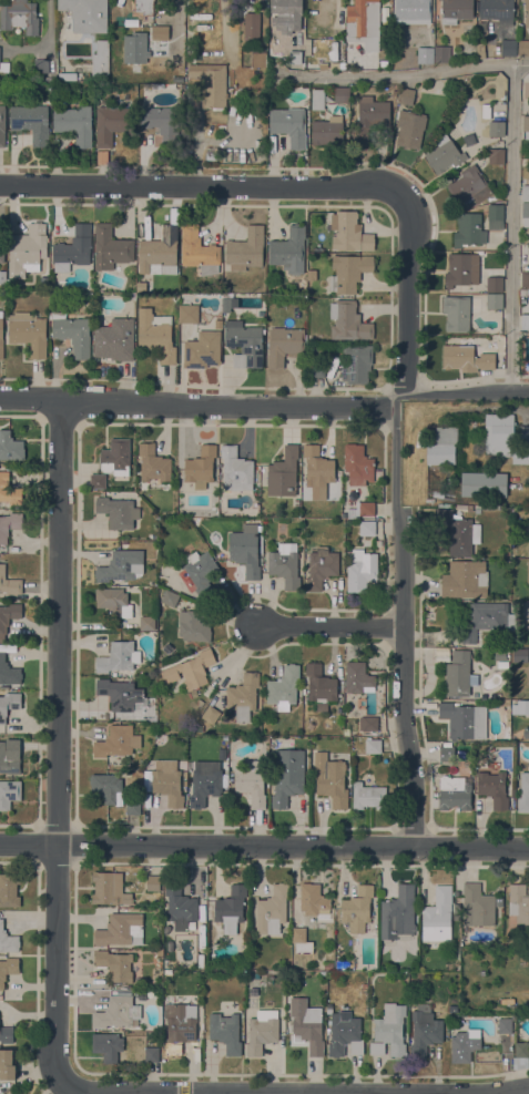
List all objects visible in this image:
building: (145, 7)
building: (456, 10)
building: (497, 10)
building: (413, 11)
building: (87, 14)
building: (286, 14)
building: (527, 14)
building: (20, 16)
building: (364, 23)
road: (176, 27)
building: (252, 27)
road: (44, 38)
building: (145, 47)
building: (508, 47)
building: (523, 48)
building: (479, 50)
building: (441, 53)
building: (425, 54)
building: (295, 57)
building: (100, 58)
building: (258, 59)
building: (335, 64)
road: (521, 64)
building: (41, 65)
building: (4, 67)
building: (73, 75)
road: (394, 79)
building: (211, 83)
building: (342, 94)
building: (404, 95)
building: (317, 99)
building: (370, 116)
building: (31, 122)
building: (74, 123)
building: (113, 123)
building: (2, 124)
building: (162, 124)
building: (289, 125)
building: (526, 125)
building: (496, 127)
building: (410, 129)
building: (329, 132)
building: (468, 139)
building: (445, 154)
building: (496, 155)
building: (469, 185)
road: (196, 188)
building: (526, 190)
building: (526, 213)
building: (495, 216)
road: (512, 228)
building: (469, 229)
building: (349, 232)
building: (111, 247)
building: (73, 248)
building: (245, 248)
building: (27, 249)
building: (159, 249)
building: (2, 251)
building: (199, 251)
building: (289, 252)
building: (460, 269)
building: (349, 272)
building: (2, 276)
building: (525, 278)
building: (495, 284)
road: (408, 286)
building: (523, 292)
building: (495, 300)
building: (226, 301)
building: (459, 311)
building: (189, 313)
building: (261, 313)
building: (348, 321)
building: (525, 321)
building: (29, 331)
building: (72, 333)
building: (155, 335)
building: (1, 336)
building: (318, 336)
building: (114, 339)
building: (245, 345)
building: (283, 345)
building: (203, 349)
building: (467, 356)
building: (356, 362)
building: (527, 366)
building: (316, 367)
road: (265, 403)
building: (525, 434)
building: (503, 438)
building: (442, 446)
building: (10, 447)
building: (115, 457)
building: (357, 463)
building: (154, 466)
building: (201, 467)
building: (236, 469)
building: (317, 471)
building: (283, 472)
building: (378, 474)
building: (98, 481)
building: (484, 483)
building: (9, 490)
building: (465, 505)
building: (365, 508)
building: (118, 512)
building: (9, 524)
building: (367, 526)
building: (458, 531)
building: (528, 549)
building: (245, 550)
building: (285, 564)
building: (121, 565)
building: (321, 566)
building: (362, 570)
building: (201, 571)
building: (528, 571)
building: (465, 579)
building: (9, 582)
building: (170, 597)
building: (113, 601)
building: (8, 616)
building: (489, 618)
building: (147, 622)
road: (403, 623)
building: (193, 626)
road: (333, 627)
building: (500, 654)
building: (519, 655)
building: (119, 656)
building: (502, 664)
building: (190, 669)
building: (9, 671)
building: (459, 673)
building: (358, 677)
building: (321, 683)
building: (284, 687)
building: (119, 693)
building: (243, 696)
building: (9, 704)
building: (321, 706)
building: (520, 707)
building: (211, 714)
building: (464, 719)
building: (368, 723)
building: (197, 727)
building: (526, 732)
building: (116, 740)
road: (58, 743)
building: (373, 746)
building: (10, 757)
building: (287, 775)
building: (330, 779)
building: (252, 781)
building: (167, 783)
building: (452, 783)
building: (106, 785)
building: (204, 785)
building: (494, 788)
building: (9, 793)
building: (523, 793)
building: (368, 796)
building: (132, 806)
road: (264, 846)
building: (153, 882)
building: (109, 888)
building: (9, 889)
building: (313, 899)
building: (520, 903)
building: (477, 906)
building: (180, 907)
building: (231, 908)
building: (357, 908)
building: (272, 910)
building: (398, 913)
building: (438, 914)
building: (121, 929)
building: (298, 934)
building: (8, 940)
building: (115, 964)
building: (328, 965)
building: (8, 968)
building: (116, 1012)
building: (179, 1025)
building: (505, 1025)
building: (309, 1029)
building: (424, 1030)
building: (225, 1031)
building: (389, 1031)
building: (344, 1033)
building: (7, 1034)
building: (261, 1034)
building: (465, 1044)
building: (108, 1045)
building: (151, 1054)
building: (520, 1054)
building: (7, 1064)
road: (507, 1090)
road: (216, 1092)
road: (162, 1093)

